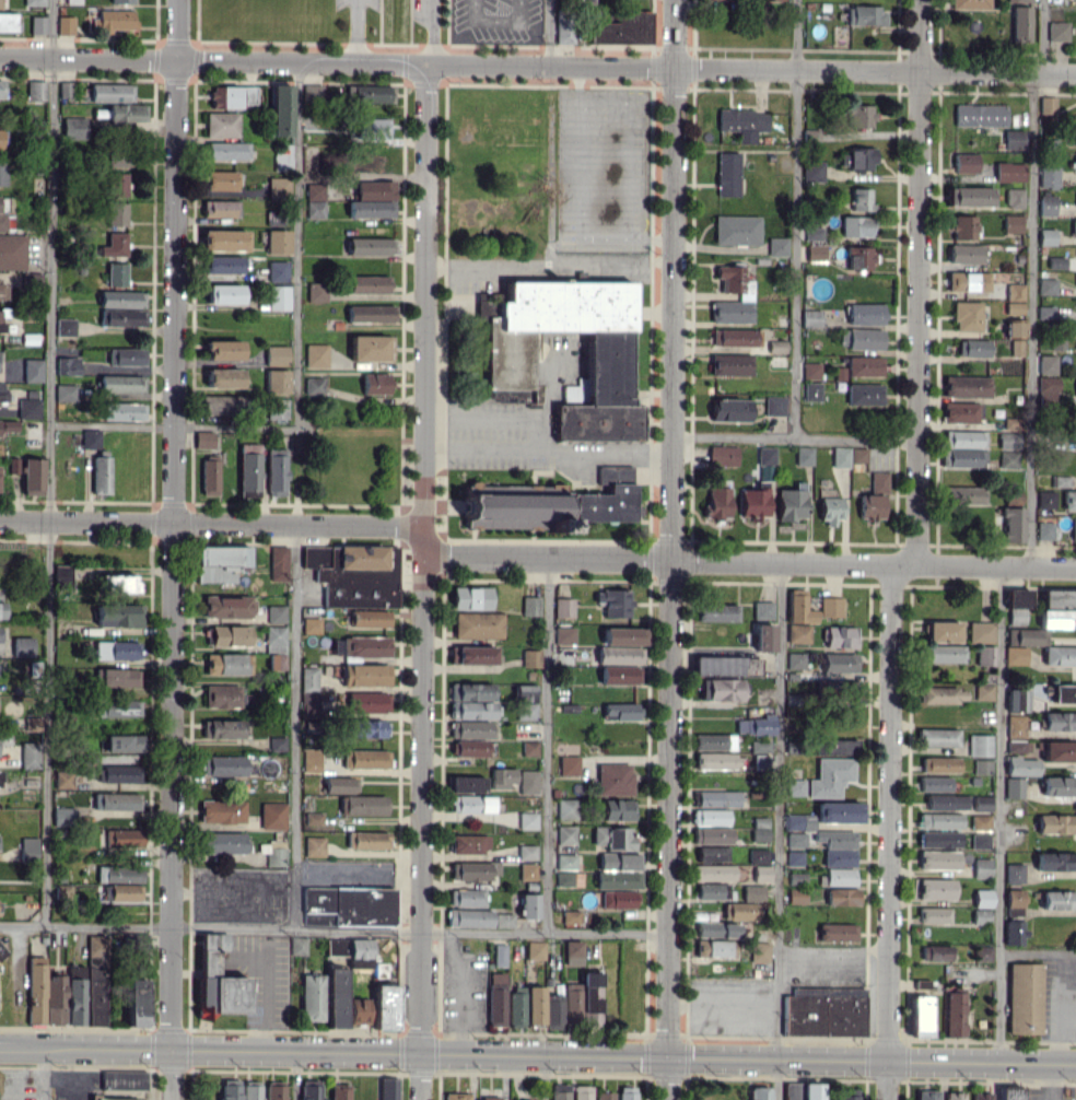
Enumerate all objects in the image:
building: (734, 0)
building: (779, 0)
building: (1019, 0)
building: (72, 1)
building: (121, 1)
building: (34, 2)
building: (0, 3)
building: (970, 4)
building: (865, 15)
road: (496, 19)
building: (113, 21)
building: (7, 22)
building: (1020, 23)
building: (38, 24)
building: (65, 24)
building: (622, 28)
road: (354, 31)
road: (430, 31)
building: (1057, 31)
road: (554, 32)
road: (1042, 35)
road: (537, 63)
building: (66, 89)
building: (36, 90)
building: (110, 92)
building: (312, 92)
building: (369, 93)
building: (224, 96)
building: (1048, 104)
building: (281, 109)
building: (126, 113)
building: (980, 115)
building: (859, 116)
building: (742, 119)
building: (221, 124)
building: (72, 127)
building: (373, 128)
building: (1074, 136)
building: (1015, 138)
building: (226, 150)
building: (856, 157)
building: (117, 161)
building: (966, 163)
building: (1009, 171)
building: (812, 172)
building: (2, 173)
building: (727, 174)
building: (1049, 176)
building: (221, 179)
building: (116, 185)
building: (278, 187)
building: (970, 196)
building: (1015, 197)
building: (373, 199)
building: (861, 199)
building: (315, 200)
building: (1046, 204)
building: (220, 208)
building: (116, 213)
building: (272, 218)
road: (796, 220)
building: (5, 222)
building: (1011, 223)
building: (855, 225)
building: (963, 226)
building: (1073, 227)
building: (736, 230)
building: (814, 233)
building: (1046, 236)
building: (224, 239)
building: (278, 241)
road: (296, 244)
building: (114, 245)
building: (369, 246)
building: (777, 246)
building: (12, 251)
building: (815, 253)
building: (964, 254)
building: (858, 257)
building: (223, 264)
road: (531, 267)
building: (278, 270)
building: (116, 273)
building: (33, 279)
road: (915, 281)
building: (968, 281)
building: (369, 283)
building: (1046, 286)
building: (2, 292)
building: (316, 292)
building: (1015, 292)
building: (224, 293)
building: (745, 296)
building: (279, 297)
building: (121, 299)
building: (1014, 307)
building: (1045, 312)
building: (371, 313)
building: (865, 313)
building: (967, 316)
building: (122, 317)
road: (1032, 317)
building: (811, 318)
building: (2, 326)
building: (66, 327)
building: (1015, 336)
building: (734, 337)
building: (861, 338)
building: (776, 346)
building: (972, 347)
building: (371, 348)
building: (223, 349)
building: (277, 354)
building: (316, 354)
building: (508, 354)
building: (126, 356)
building: (67, 364)
building: (730, 364)
building: (1046, 364)
building: (864, 365)
building: (32, 370)
building: (811, 371)
building: (223, 377)
building: (277, 381)
building: (121, 383)
building: (375, 383)
building: (314, 386)
building: (967, 386)
building: (1048, 389)
building: (0, 390)
building: (812, 390)
building: (65, 393)
building: (864, 394)
building: (222, 405)
building: (774, 405)
building: (28, 408)
building: (281, 408)
building: (730, 409)
building: (122, 411)
building: (961, 412)
building: (1013, 423)
building: (8, 425)
road: (172, 425)
building: (91, 438)
building: (963, 438)
building: (203, 440)
road: (792, 440)
building: (1008, 440)
road: (548, 450)
building: (723, 455)
building: (765, 455)
building: (803, 455)
building: (847, 456)
building: (964, 458)
road: (48, 463)
building: (249, 469)
building: (101, 471)
building: (276, 471)
building: (33, 476)
building: (210, 477)
building: (1060, 481)
building: (879, 482)
building: (964, 495)
building: (607, 496)
building: (1045, 500)
building: (1069, 500)
building: (717, 503)
building: (753, 503)
building: (514, 506)
building: (870, 506)
building: (831, 510)
road: (212, 523)
building: (1009, 524)
building: (1073, 528)
building: (1044, 530)
road: (669, 549)
road: (177, 550)
road: (750, 559)
building: (219, 562)
building: (278, 562)
building: (354, 574)
building: (60, 576)
road: (424, 581)
building: (119, 582)
building: (471, 597)
building: (1018, 598)
building: (615, 601)
building: (227, 606)
building: (530, 606)
building: (831, 606)
building: (564, 607)
building: (1059, 608)
building: (2, 609)
building: (762, 610)
building: (717, 611)
building: (276, 613)
building: (119, 615)
building: (798, 617)
building: (370, 618)
building: (311, 624)
building: (478, 624)
building: (943, 631)
building: (982, 632)
building: (227, 635)
building: (564, 635)
building: (763, 636)
building: (840, 636)
building: (1024, 636)
building: (23, 646)
building: (276, 646)
building: (365, 646)
building: (621, 646)
building: (116, 651)
building: (945, 653)
building: (472, 655)
building: (985, 655)
building: (1016, 655)
building: (1060, 655)
building: (531, 658)
building: (796, 660)
building: (839, 662)
building: (227, 664)
building: (717, 665)
building: (365, 675)
building: (618, 675)
building: (116, 677)
building: (721, 689)
building: (984, 691)
building: (309, 692)
building: (1062, 692)
building: (944, 694)
building: (223, 695)
building: (1018, 698)
building: (471, 700)
building: (367, 701)
building: (525, 701)
building: (118, 707)
building: (620, 711)
building: (1060, 721)
building: (34, 724)
building: (755, 725)
road: (295, 726)
building: (1016, 726)
building: (222, 728)
building: (367, 728)
building: (470, 729)
building: (938, 737)
building: (712, 741)
building: (122, 742)
building: (277, 744)
road: (548, 745)
building: (980, 745)
building: (760, 746)
building: (837, 746)
building: (1018, 746)
building: (469, 748)
building: (530, 748)
building: (1057, 750)
building: (30, 754)
building: (366, 759)
building: (311, 760)
building: (715, 761)
building: (762, 761)
building: (569, 764)
building: (940, 764)
building: (223, 765)
building: (1022, 765)
building: (982, 767)
building: (118, 773)
building: (830, 776)
building: (502, 777)
building: (613, 779)
building: (63, 780)
building: (528, 781)
building: (935, 783)
building: (466, 784)
building: (1059, 785)
building: (795, 786)
building: (1014, 786)
building: (354, 797)
building: (117, 801)
building: (947, 801)
building: (982, 803)
building: (471, 804)
building: (566, 808)
building: (618, 809)
road: (781, 809)
building: (222, 811)
building: (839, 811)
road: (1001, 812)
building: (272, 816)
building: (63, 817)
building: (710, 817)
building: (314, 818)
building: (527, 820)
building: (940, 820)
building: (981, 822)
building: (1055, 823)
building: (760, 829)
road: (890, 830)
building: (565, 834)
building: (712, 835)
building: (124, 838)
building: (613, 838)
building: (939, 839)
building: (367, 840)
building: (796, 840)
building: (827, 840)
building: (981, 841)
building: (221, 842)
building: (469, 843)
building: (315, 845)
building: (28, 849)
building: (276, 852)
building: (527, 852)
building: (712, 853)
building: (758, 855)
building: (795, 857)
building: (939, 859)
building: (566, 862)
building: (982, 867)
building: (475, 870)
building: (619, 870)
building: (528, 871)
building: (713, 871)
building: (761, 873)
building: (1015, 873)
building: (119, 874)
building: (840, 876)
building: (797, 877)
road: (359, 878)
building: (569, 879)
building: (936, 889)
building: (62, 891)
building: (709, 891)
building: (121, 892)
building: (753, 892)
building: (796, 896)
building: (842, 896)
building: (467, 897)
building: (983, 898)
building: (618, 899)
building: (1056, 899)
building: (1014, 901)
building: (348, 905)
building: (528, 905)
building: (740, 910)
building: (935, 914)
building: (981, 915)
building: (571, 916)
building: (469, 917)
building: (504, 920)
building: (717, 929)
road: (332, 931)
building: (1015, 931)
building: (838, 932)
building: (138, 943)
building: (297, 945)
building: (349, 947)
building: (3, 948)
building: (712, 948)
road: (834, 949)
building: (535, 950)
building: (572, 952)
building: (936, 952)
building: (983, 952)
building: (759, 953)
building: (499, 955)
building: (96, 978)
building: (218, 978)
building: (44, 994)
building: (75, 995)
building: (312, 997)
building: (1025, 998)
building: (583, 1000)
building: (137, 1002)
building: (343, 1002)
building: (504, 1002)
road: (723, 1005)
building: (534, 1006)
building: (385, 1007)
building: (553, 1011)
building: (824, 1011)
building: (955, 1014)
building: (920, 1016)
road: (537, 1055)
road: (42, 1074)
road: (294, 1075)
road: (542, 1078)
building: (124, 1079)
road: (777, 1080)
building: (388, 1088)
building: (311, 1089)
building: (252, 1090)
building: (276, 1090)
building: (340, 1091)
building: (559, 1091)
building: (803, 1091)
building: (582, 1092)
building: (627, 1092)
building: (1002, 1093)
building: (927, 1095)
building: (456, 1096)
building: (604, 1096)
building: (955, 1096)
building: (845, 1097)
building: (116, 1098)

